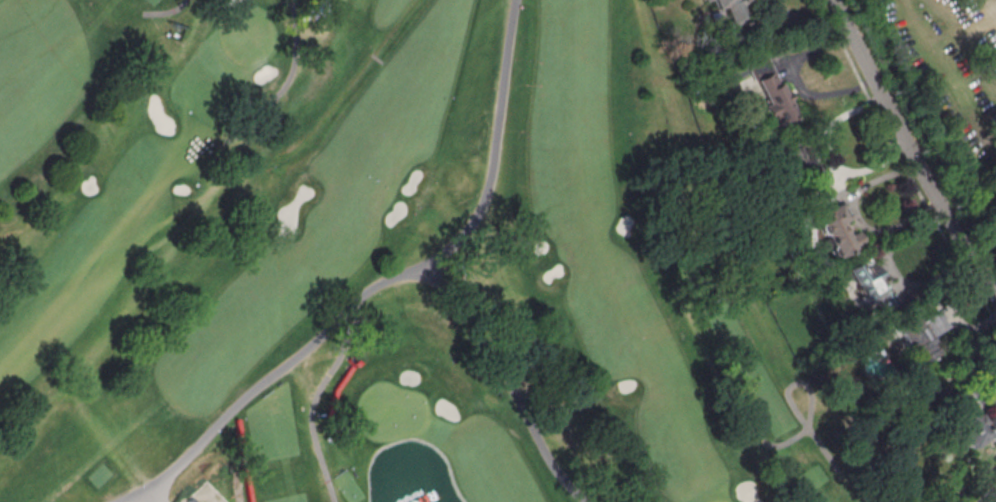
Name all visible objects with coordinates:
building: (730, 14)
road: (802, 19)
park: (246, 34)
road: (797, 81)
park: (945, 92)
building: (765, 96)
road: (909, 152)
road: (828, 157)
building: (801, 164)
road: (901, 164)
park: (124, 171)
road: (856, 217)
building: (836, 229)
park: (382, 264)
road: (888, 274)
building: (868, 284)
road: (952, 311)
building: (919, 336)
park: (391, 411)
building: (982, 432)
park: (719, 500)

